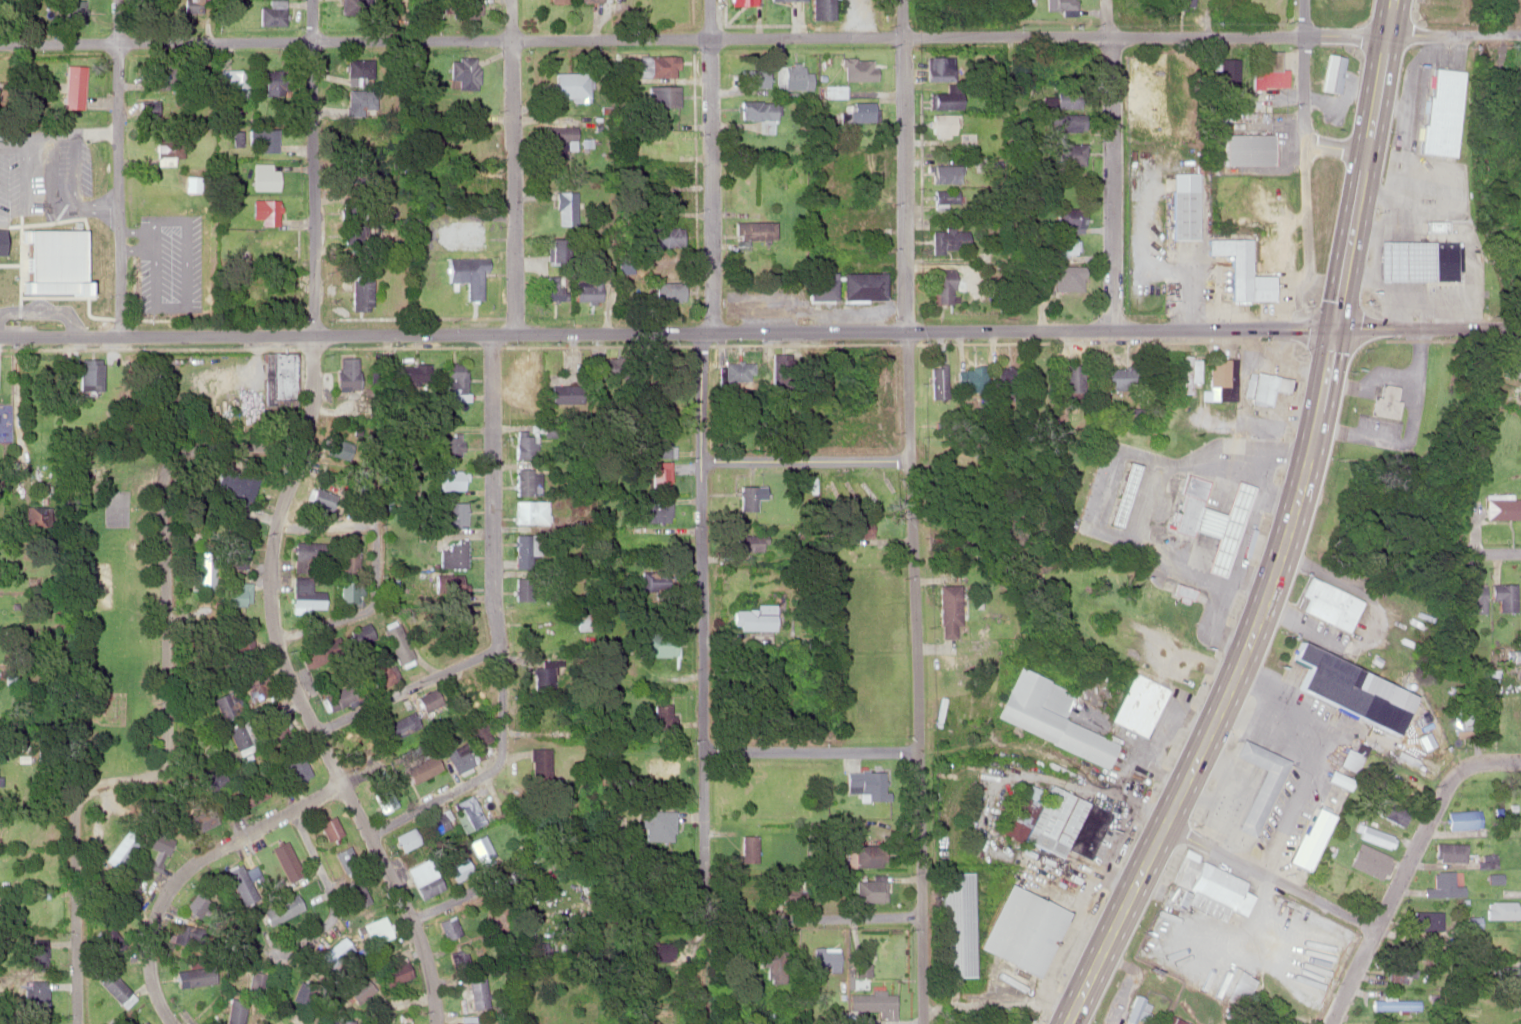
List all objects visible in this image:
building: (363, 0)
building: (557, 0)
building: (586, 0)
building: (786, 0)
building: (1180, 3)
building: (1061, 5)
building: (464, 9)
building: (821, 9)
building: (75, 11)
building: (271, 13)
road: (760, 37)
building: (660, 66)
building: (936, 67)
building: (856, 68)
building: (1267, 69)
building: (462, 73)
building: (1332, 73)
building: (794, 75)
building: (754, 77)
building: (237, 82)
building: (277, 82)
building: (72, 86)
building: (569, 86)
building: (662, 95)
building: (355, 99)
building: (943, 103)
building: (149, 108)
building: (755, 109)
building: (860, 111)
building: (1440, 111)
building: (1064, 121)
building: (940, 123)
road: (1304, 134)
building: (559, 135)
road: (60, 140)
building: (264, 140)
building: (463, 143)
road: (1335, 148)
building: (1247, 149)
building: (168, 151)
building: (1069, 153)
building: (854, 163)
road: (1109, 164)
road: (121, 168)
building: (944, 173)
building: (263, 177)
building: (348, 179)
building: (465, 181)
building: (943, 196)
building: (563, 208)
building: (264, 212)
building: (860, 213)
building: (1181, 214)
building: (1067, 219)
building: (753, 229)
road: (315, 230)
building: (661, 236)
building: (947, 239)
building: (1, 240)
building: (264, 246)
building: (1063, 246)
building: (552, 249)
building: (54, 260)
building: (1416, 260)
parking lot: (169, 263)
building: (1238, 270)
building: (465, 274)
building: (1062, 279)
building: (859, 285)
building: (817, 286)
building: (938, 287)
building: (548, 288)
building: (583, 288)
building: (262, 290)
building: (665, 291)
building: (361, 295)
road: (46, 309)
road: (760, 331)
building: (736, 371)
building: (1190, 372)
building: (347, 373)
building: (524, 373)
building: (90, 374)
building: (414, 374)
building: (1071, 378)
building: (1118, 378)
building: (280, 379)
building: (969, 379)
building: (1220, 379)
building: (938, 381)
building: (1003, 381)
building: (453, 383)
building: (1266, 386)
road: (492, 392)
road: (8, 394)
building: (563, 395)
building: (4, 396)
road: (250, 399)
building: (1383, 400)
building: (660, 443)
building: (448, 446)
building: (520, 446)
building: (334, 452)
road: (230, 458)
road: (806, 459)
building: (661, 475)
building: (447, 479)
building: (524, 481)
building: (234, 485)
building: (869, 493)
building: (1123, 494)
building: (748, 498)
building: (317, 499)
road: (701, 503)
building: (1503, 507)
building: (657, 509)
building: (528, 511)
road: (911, 512)
building: (450, 514)
building: (1212, 524)
building: (858, 527)
road: (1289, 530)
building: (748, 543)
road: (270, 547)
building: (237, 550)
building: (521, 550)
building: (305, 551)
road: (1503, 552)
building: (452, 553)
building: (347, 561)
building: (295, 566)
road: (376, 571)
building: (655, 580)
building: (350, 590)
building: (238, 593)
building: (302, 595)
building: (1503, 595)
building: (1474, 596)
building: (1333, 605)
building: (948, 610)
building: (581, 621)
building: (360, 634)
building: (241, 641)
building: (653, 642)
building: (398, 645)
building: (310, 657)
building: (380, 673)
building: (539, 678)
building: (257, 684)
road: (408, 688)
building: (1349, 688)
building: (341, 695)
building: (464, 695)
building: (428, 699)
building: (223, 704)
building: (1140, 704)
building: (1049, 715)
building: (659, 716)
building: (548, 721)
building: (275, 724)
building: (401, 726)
building: (244, 735)
building: (479, 738)
building: (354, 739)
road: (810, 750)
building: (459, 757)
building: (1351, 759)
road: (1501, 760)
building: (540, 764)
building: (423, 768)
building: (293, 770)
road: (156, 778)
building: (0, 780)
building: (1257, 782)
building: (865, 783)
building: (252, 793)
building: (383, 798)
road: (425, 805)
building: (469, 812)
building: (1393, 812)
building: (1464, 819)
building: (201, 820)
building: (1057, 820)
building: (440, 823)
building: (659, 825)
building: (325, 827)
road: (366, 829)
building: (1377, 835)
building: (1310, 837)
building: (405, 839)
building: (155, 846)
building: (747, 848)
building: (483, 849)
building: (1451, 851)
building: (115, 854)
building: (866, 855)
building: (341, 857)
road: (315, 859)
building: (1490, 859)
building: (281, 860)
building: (1370, 860)
road: (186, 866)
building: (1323, 870)
road: (1271, 876)
building: (424, 880)
building: (1211, 882)
building: (242, 883)
road: (1398, 883)
building: (1444, 885)
building: (868, 889)
building: (121, 890)
building: (39, 893)
building: (352, 893)
road: (451, 901)
building: (1504, 909)
building: (278, 910)
road: (746, 918)
building: (1428, 919)
building: (957, 923)
building: (446, 927)
building: (1023, 929)
building: (373, 930)
building: (533, 950)
building: (656, 951)
building: (231, 955)
building: (824, 955)
building: (38, 958)
building: (459, 958)
building: (774, 964)
building: (860, 969)
building: (393, 972)
building: (1401, 973)
building: (1505, 975)
building: (254, 982)
building: (113, 988)
building: (358, 990)
building: (477, 992)
building: (1395, 1004)
building: (870, 1006)
building: (1140, 1009)
building: (234, 1011)
building: (345, 1022)
building: (465, 1022)

